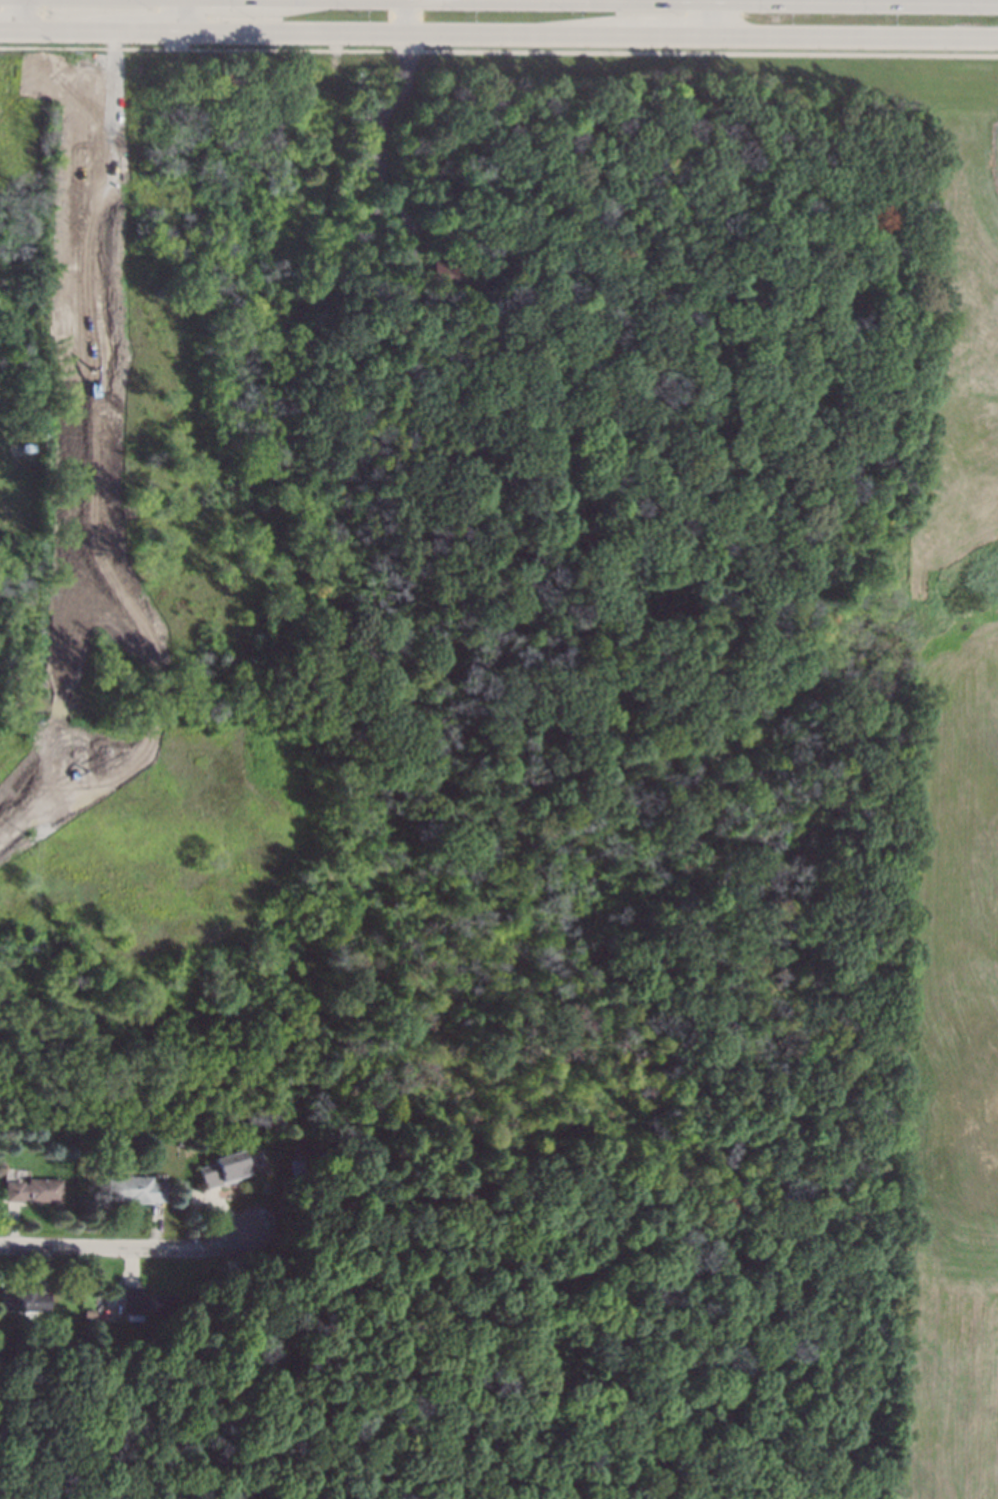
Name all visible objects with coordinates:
road: (936, 0)
road: (21, 16)
road: (178, 16)
road: (719, 18)
road: (499, 34)
road: (410, 88)
building: (311, 113)
airport: (995, 153)
building: (282, 215)
building: (1, 226)
building: (332, 244)
building: (331, 259)
building: (445, 267)
building: (319, 317)
park: (19, 452)
building: (26, 455)
building: (177, 1142)
building: (221, 1169)
building: (134, 1189)
building: (31, 1190)
road: (129, 1248)
building: (24, 1299)
building: (145, 1303)
building: (89, 1313)

